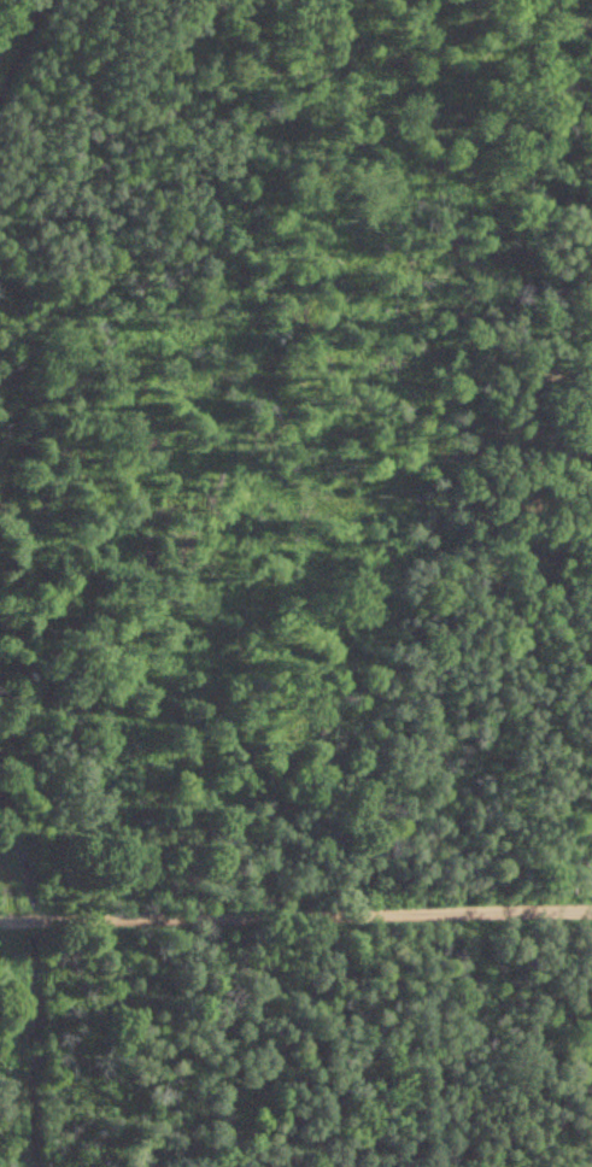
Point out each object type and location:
road: (295, 920)

